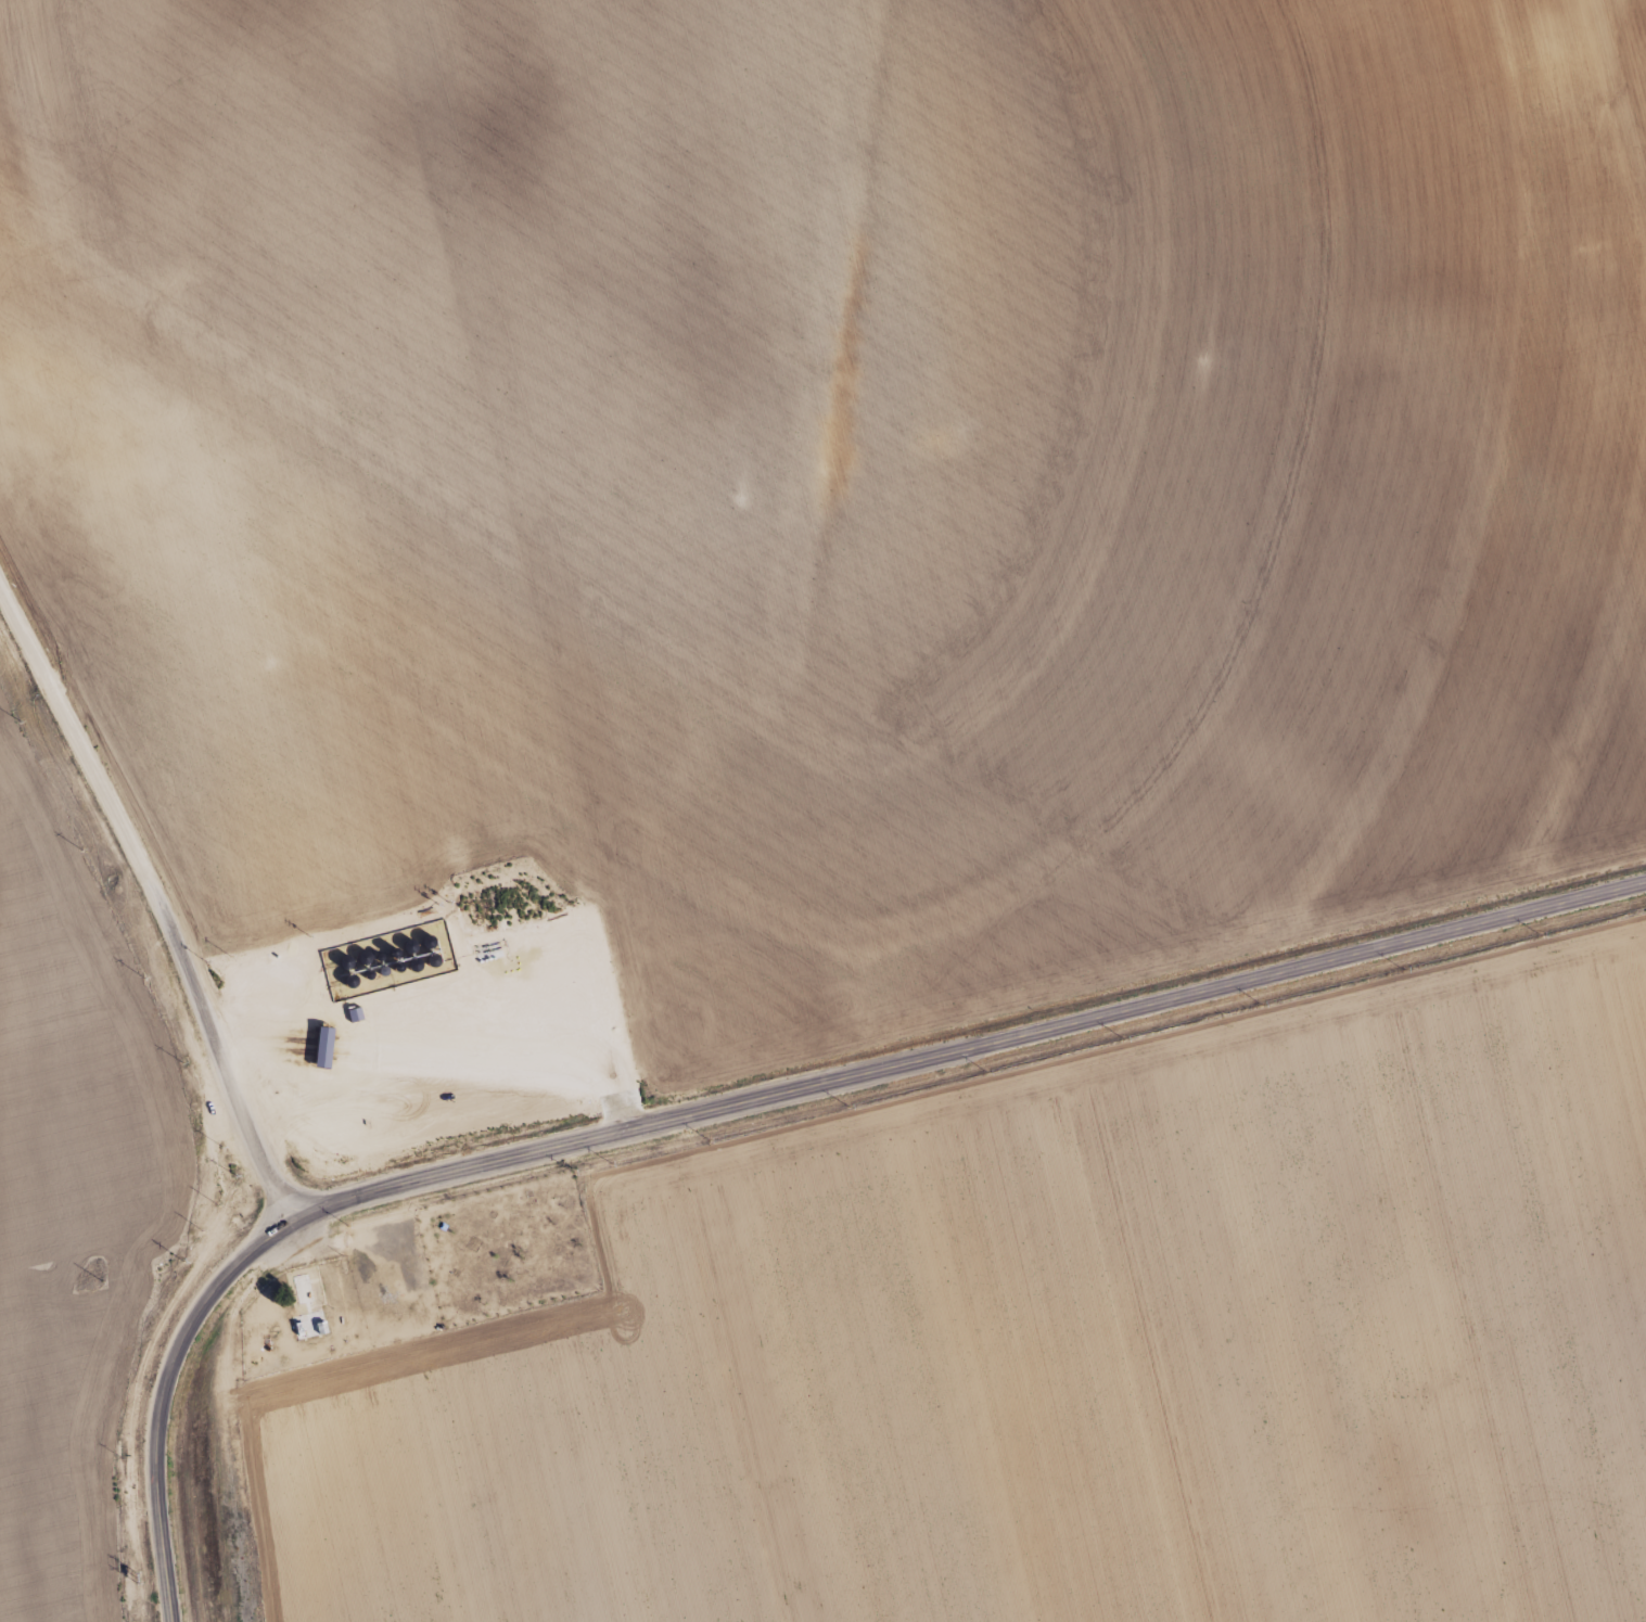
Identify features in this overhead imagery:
road: (156, 931)
road: (749, 1098)
building: (298, 1287)
building: (303, 1323)

